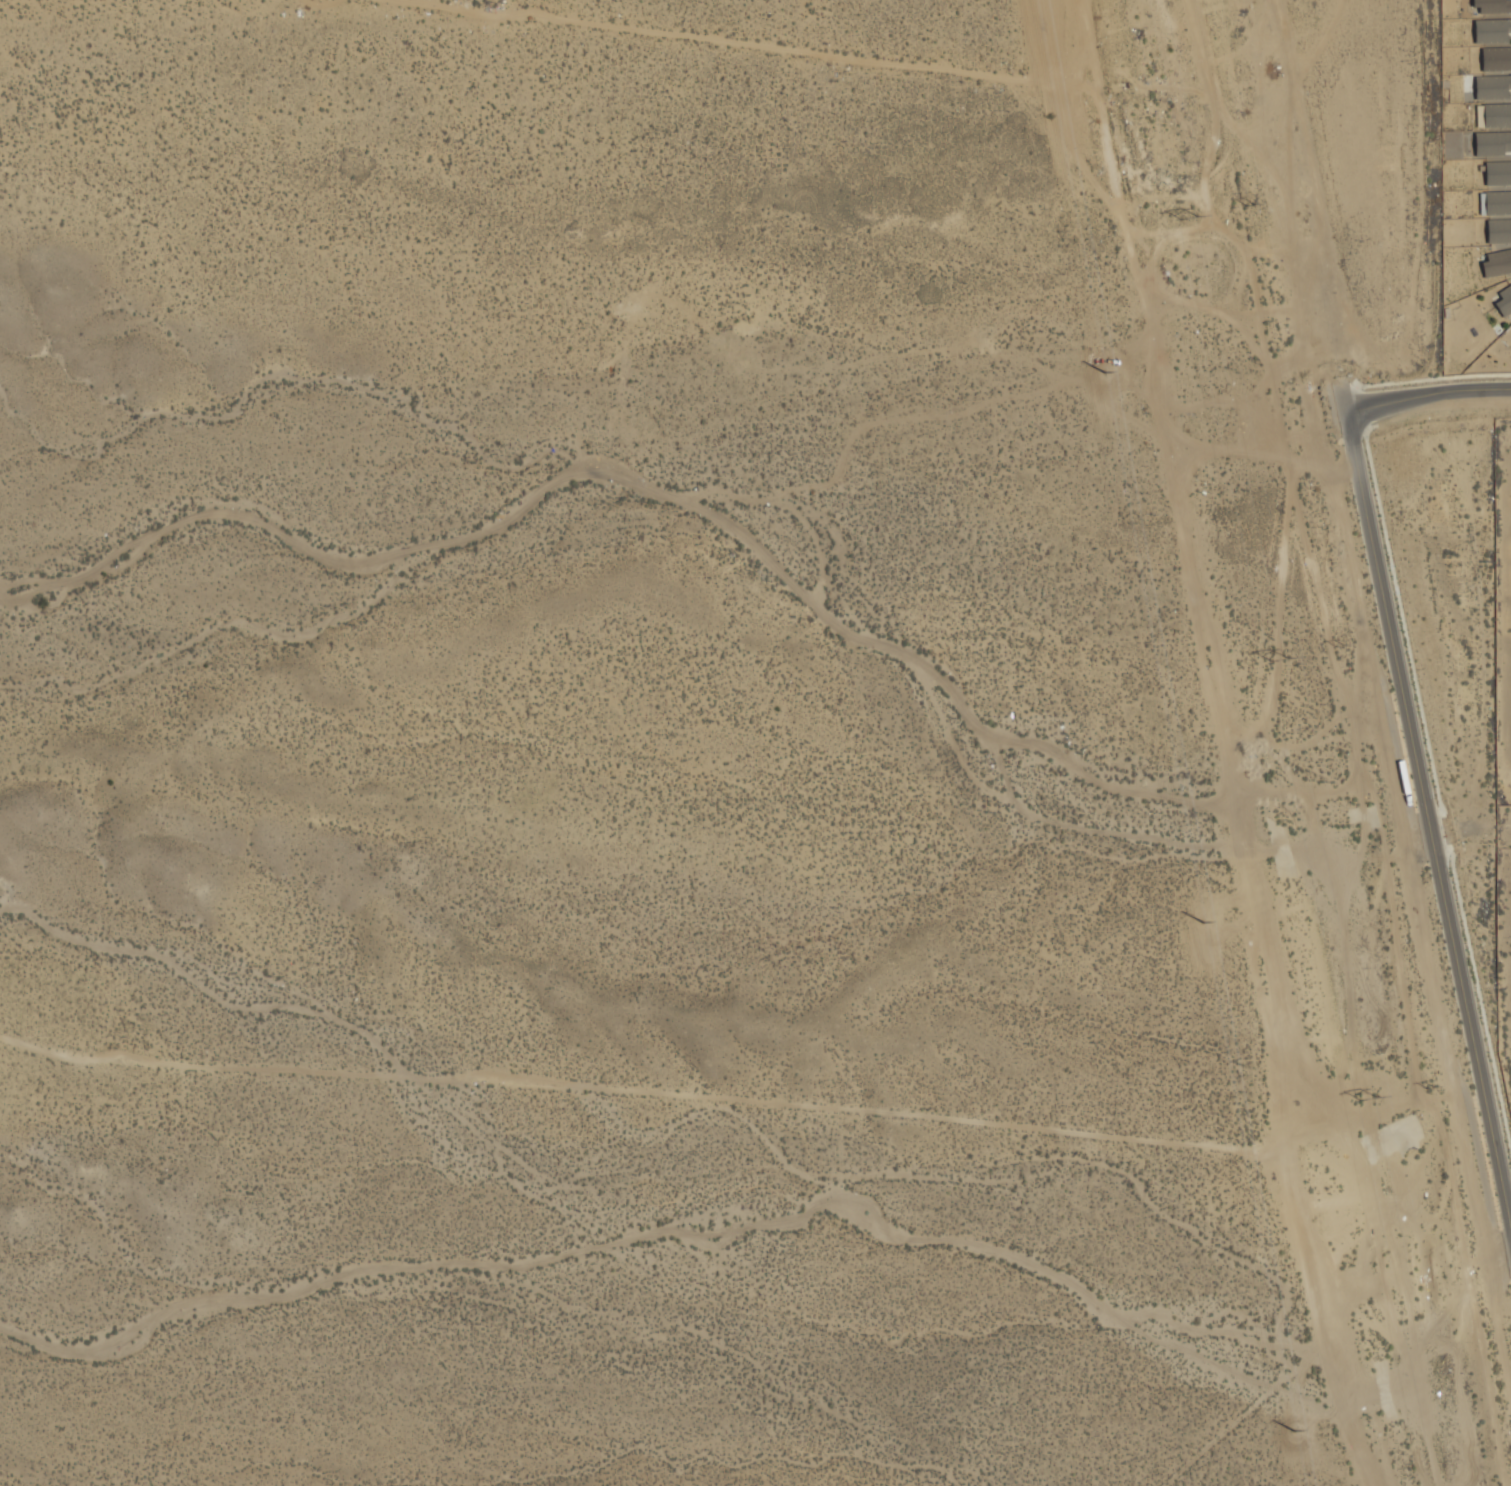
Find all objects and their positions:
building: (1495, 137)
power tower: (1250, 206)
power tower: (1189, 219)
power tower: (1105, 373)
road: (1428, 395)
power tower: (1340, 648)
power tower: (1282, 662)
road: (1426, 803)
road: (1471, 827)
power tower: (1204, 922)
power tower: (1430, 1091)
power tower: (1371, 1103)
power tower: (1294, 1431)

